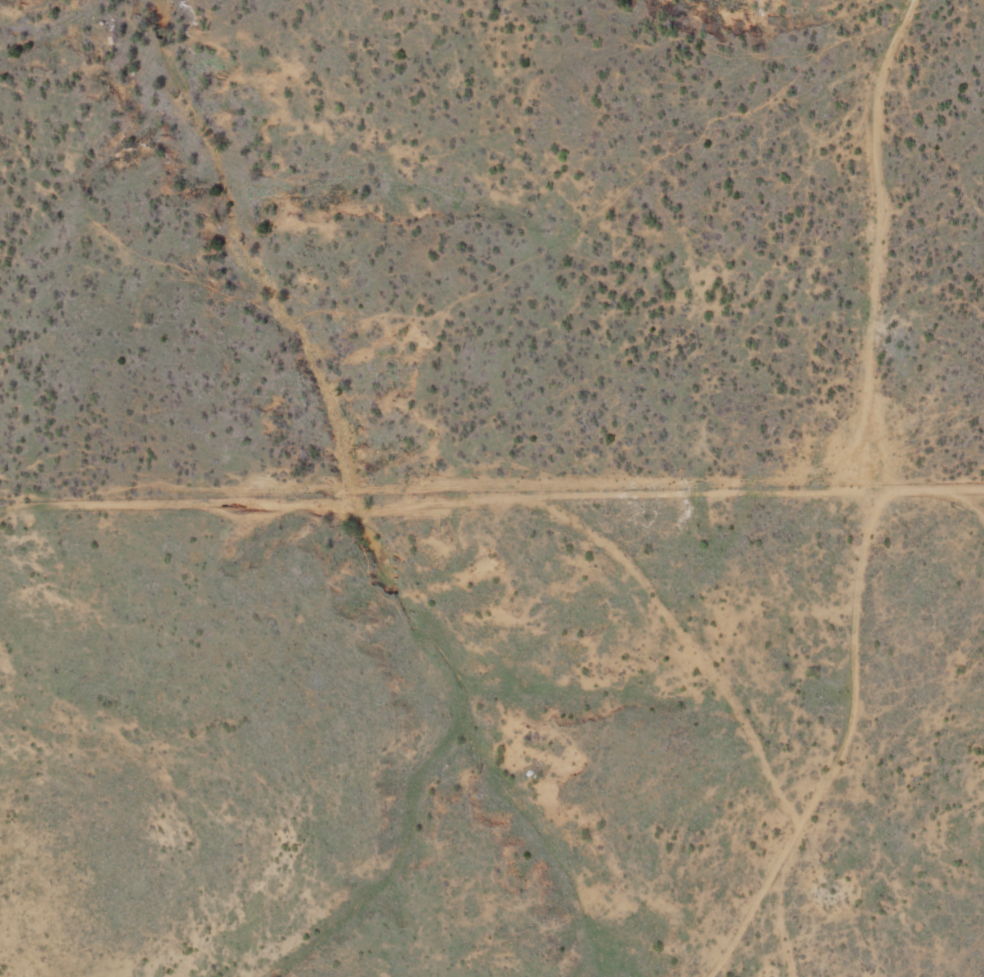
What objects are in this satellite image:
road: (852, 501)

